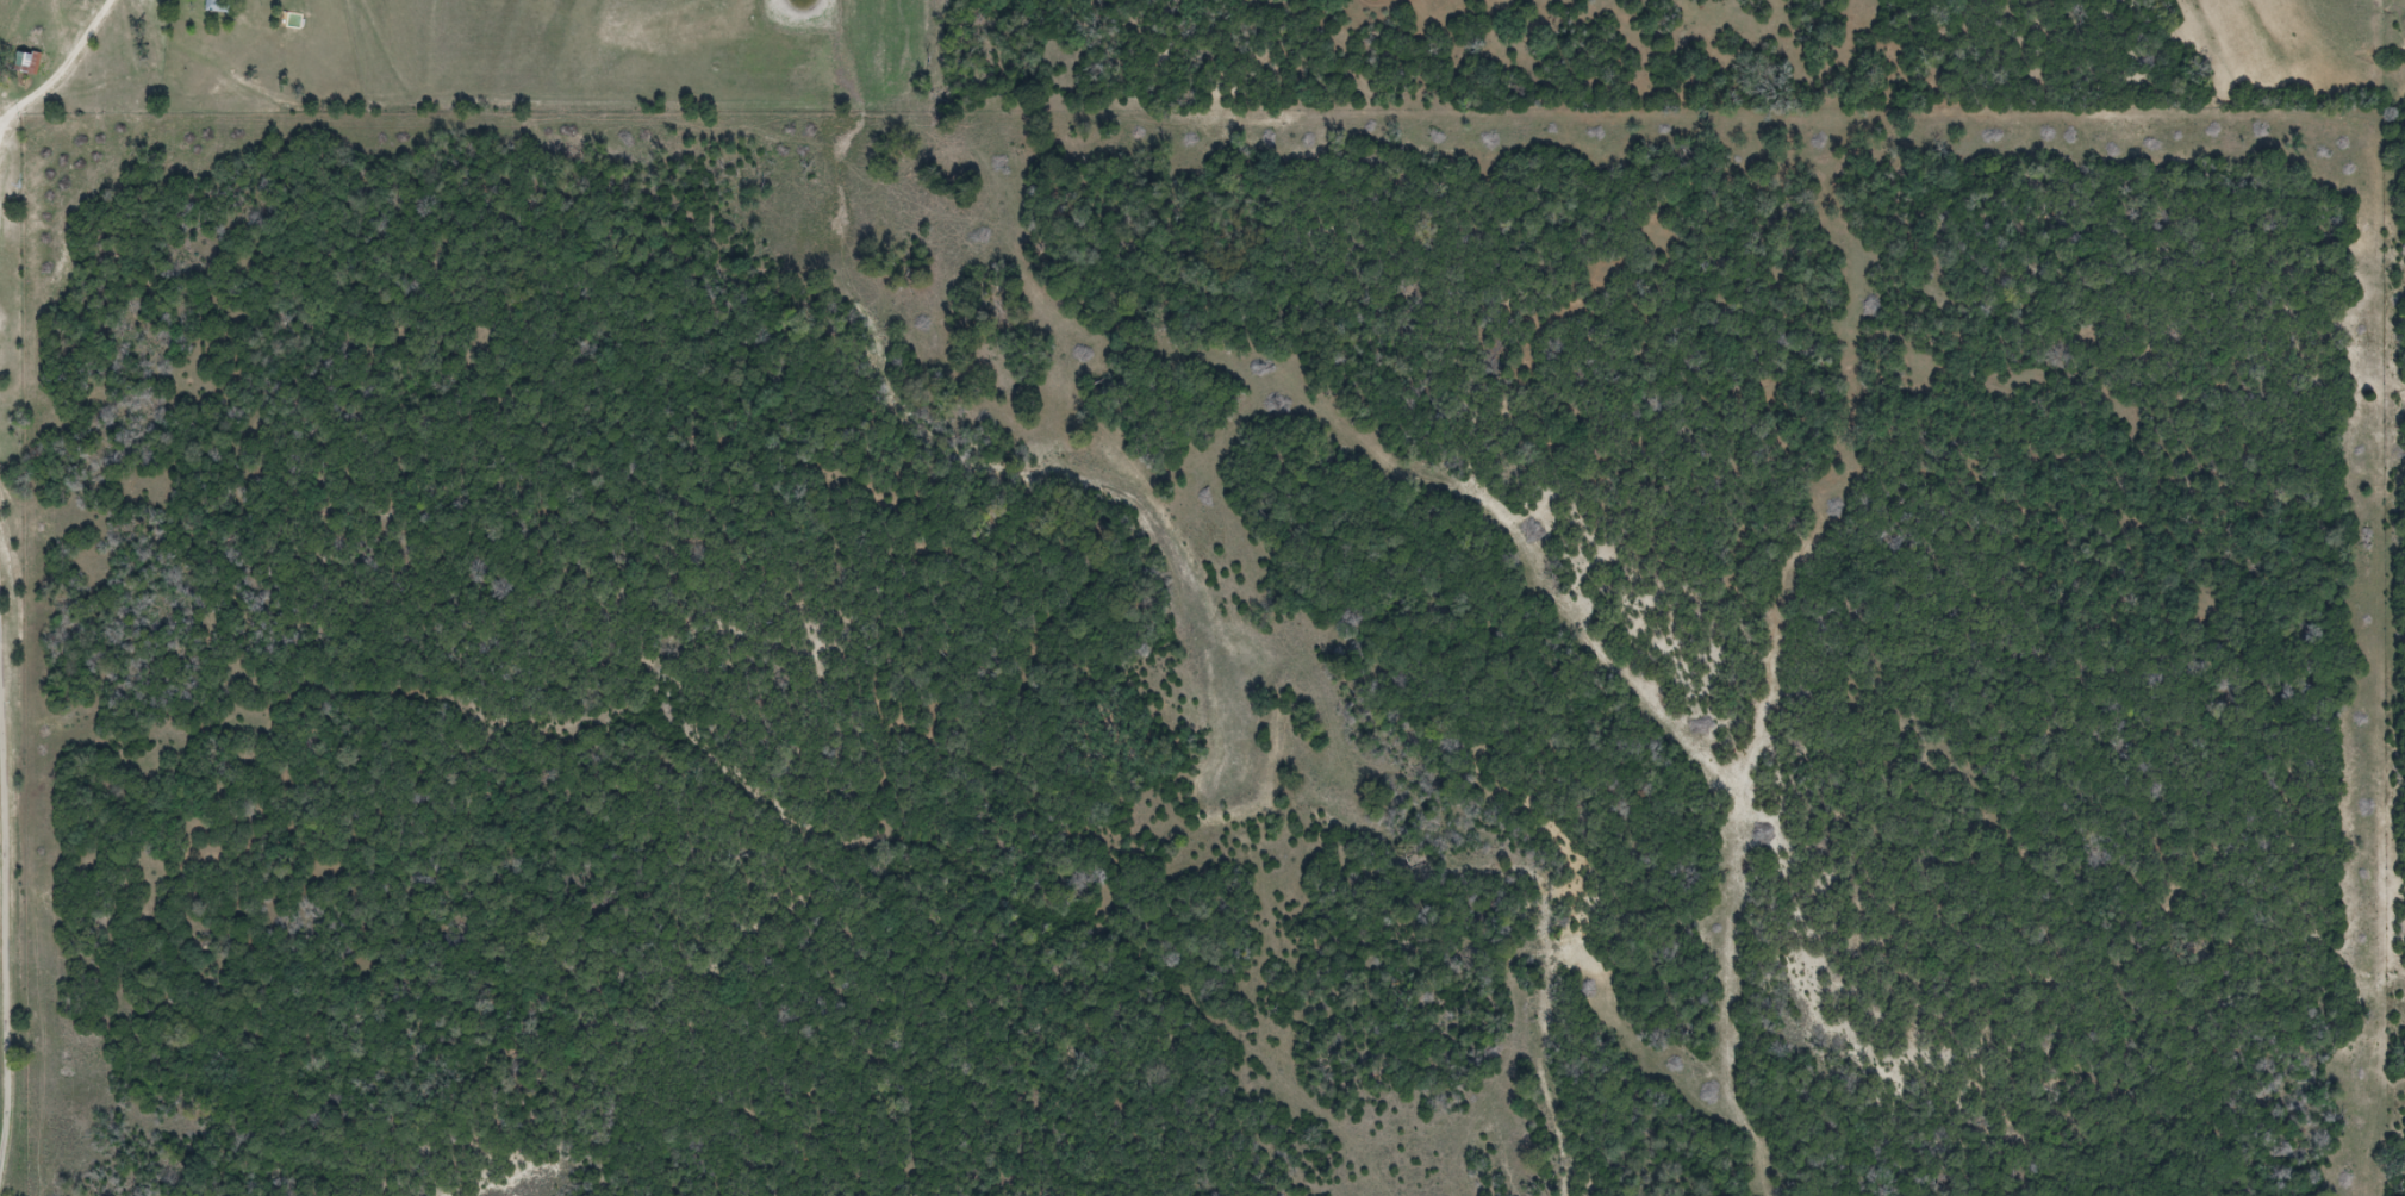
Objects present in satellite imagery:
building: (216, 6)
road: (845, 15)
building: (26, 63)
road: (480, 64)
road: (60, 67)
road: (5, 865)

